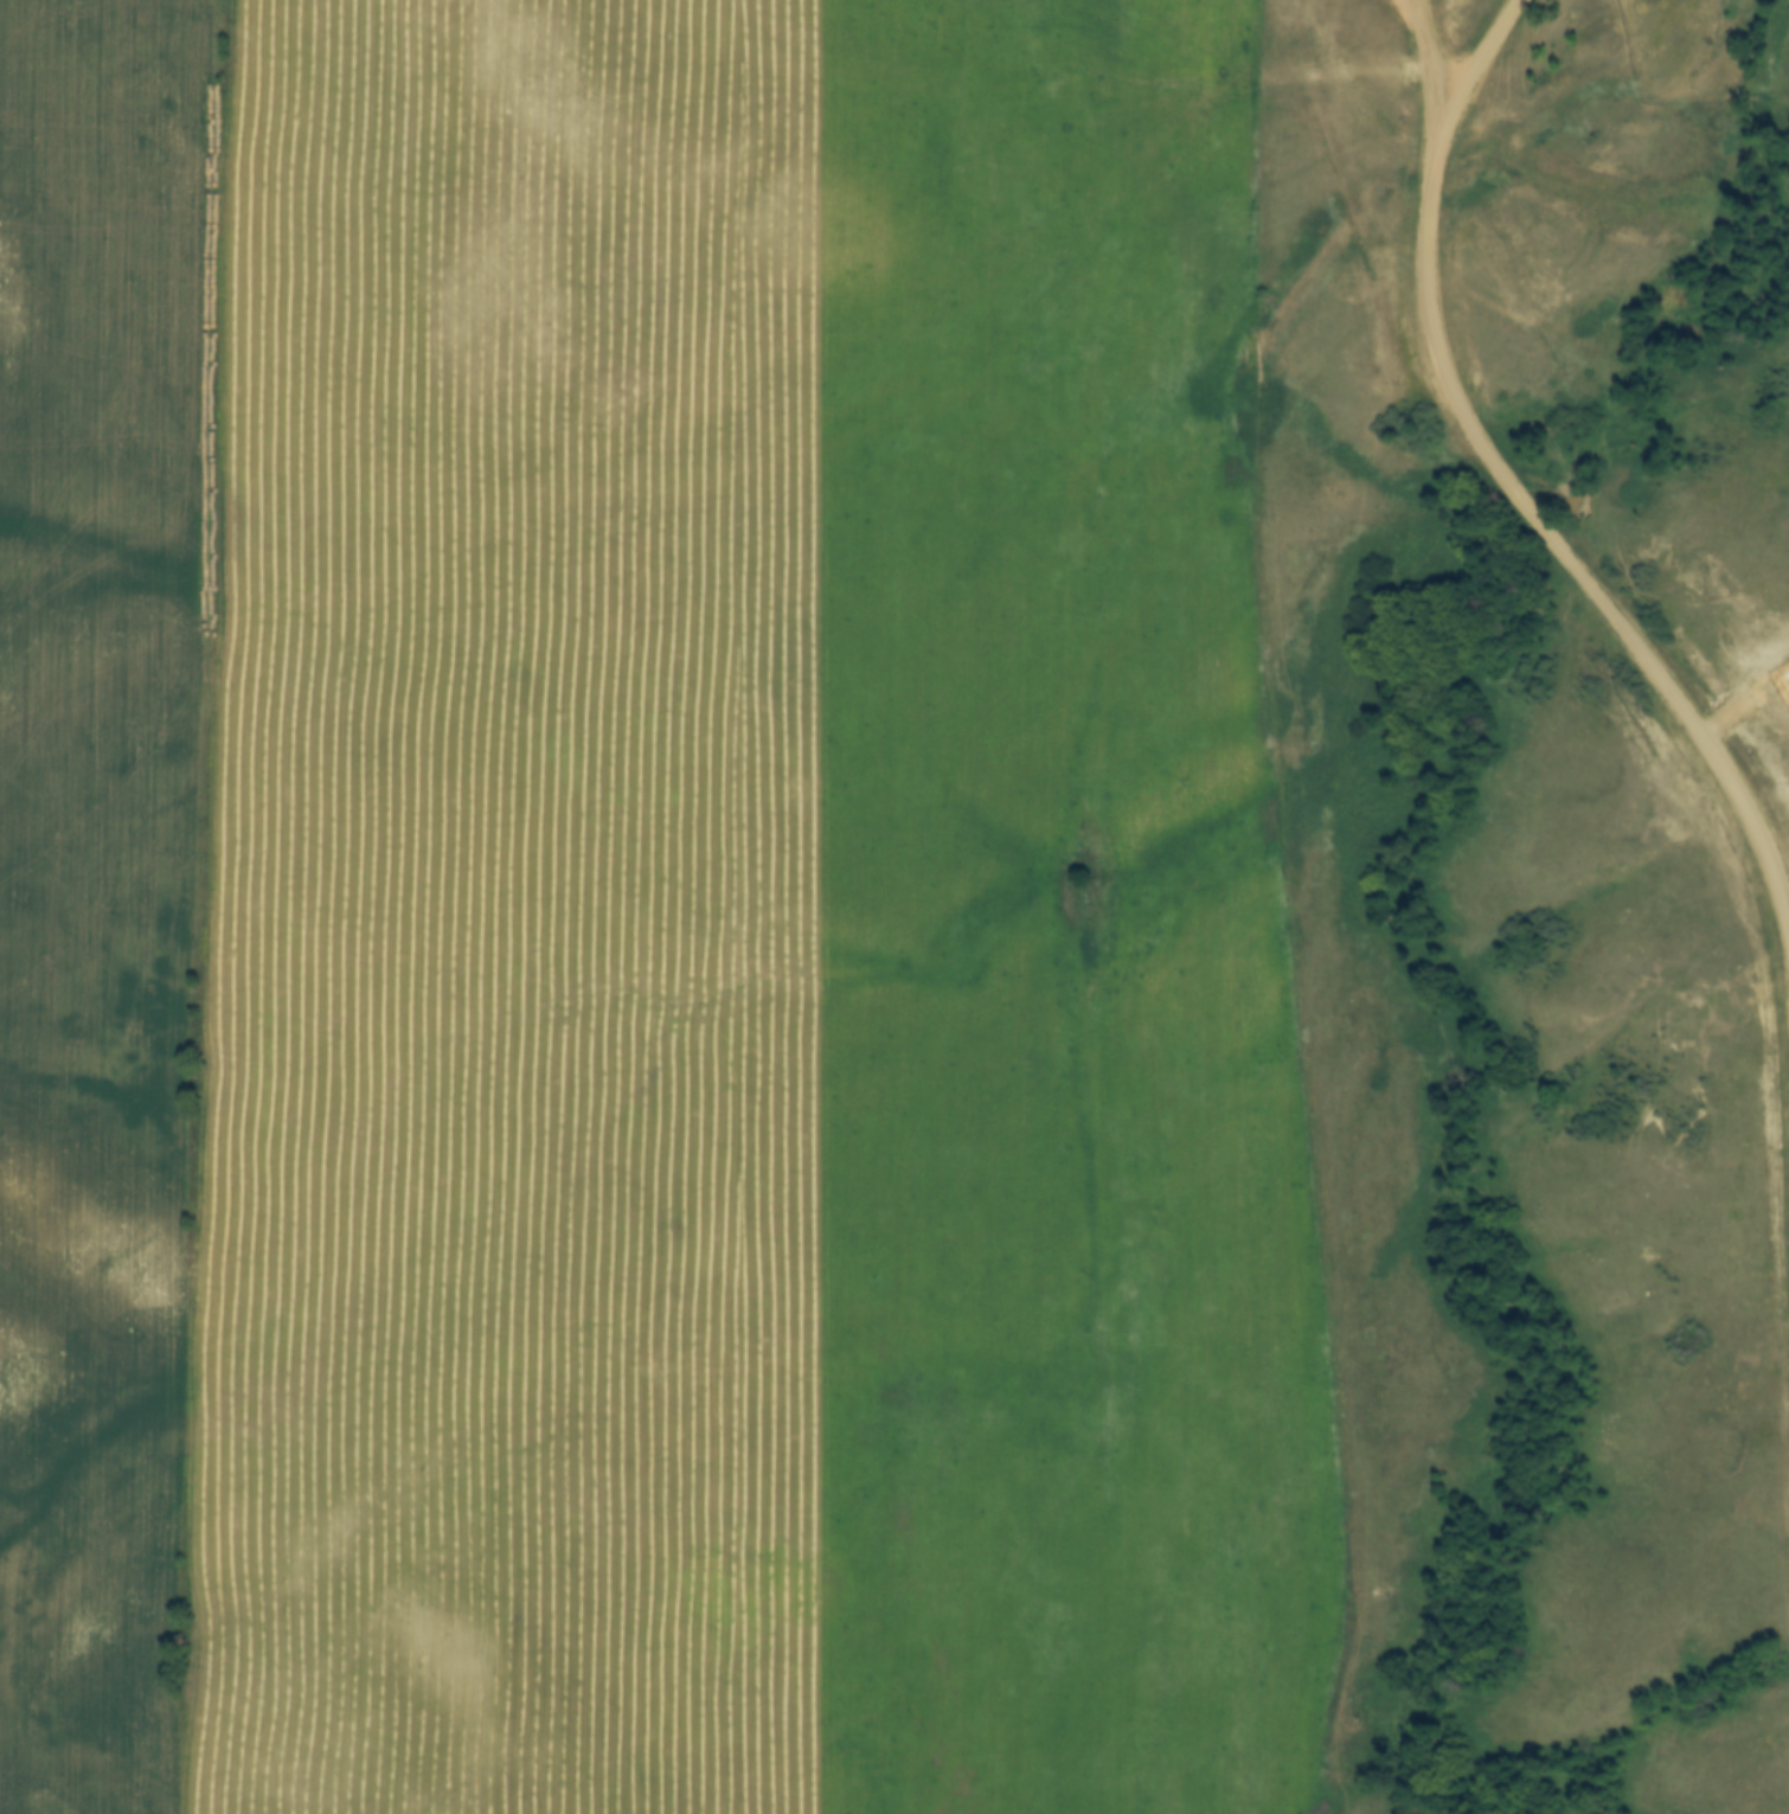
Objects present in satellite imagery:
road: (1434, 69)
road: (1508, 482)

